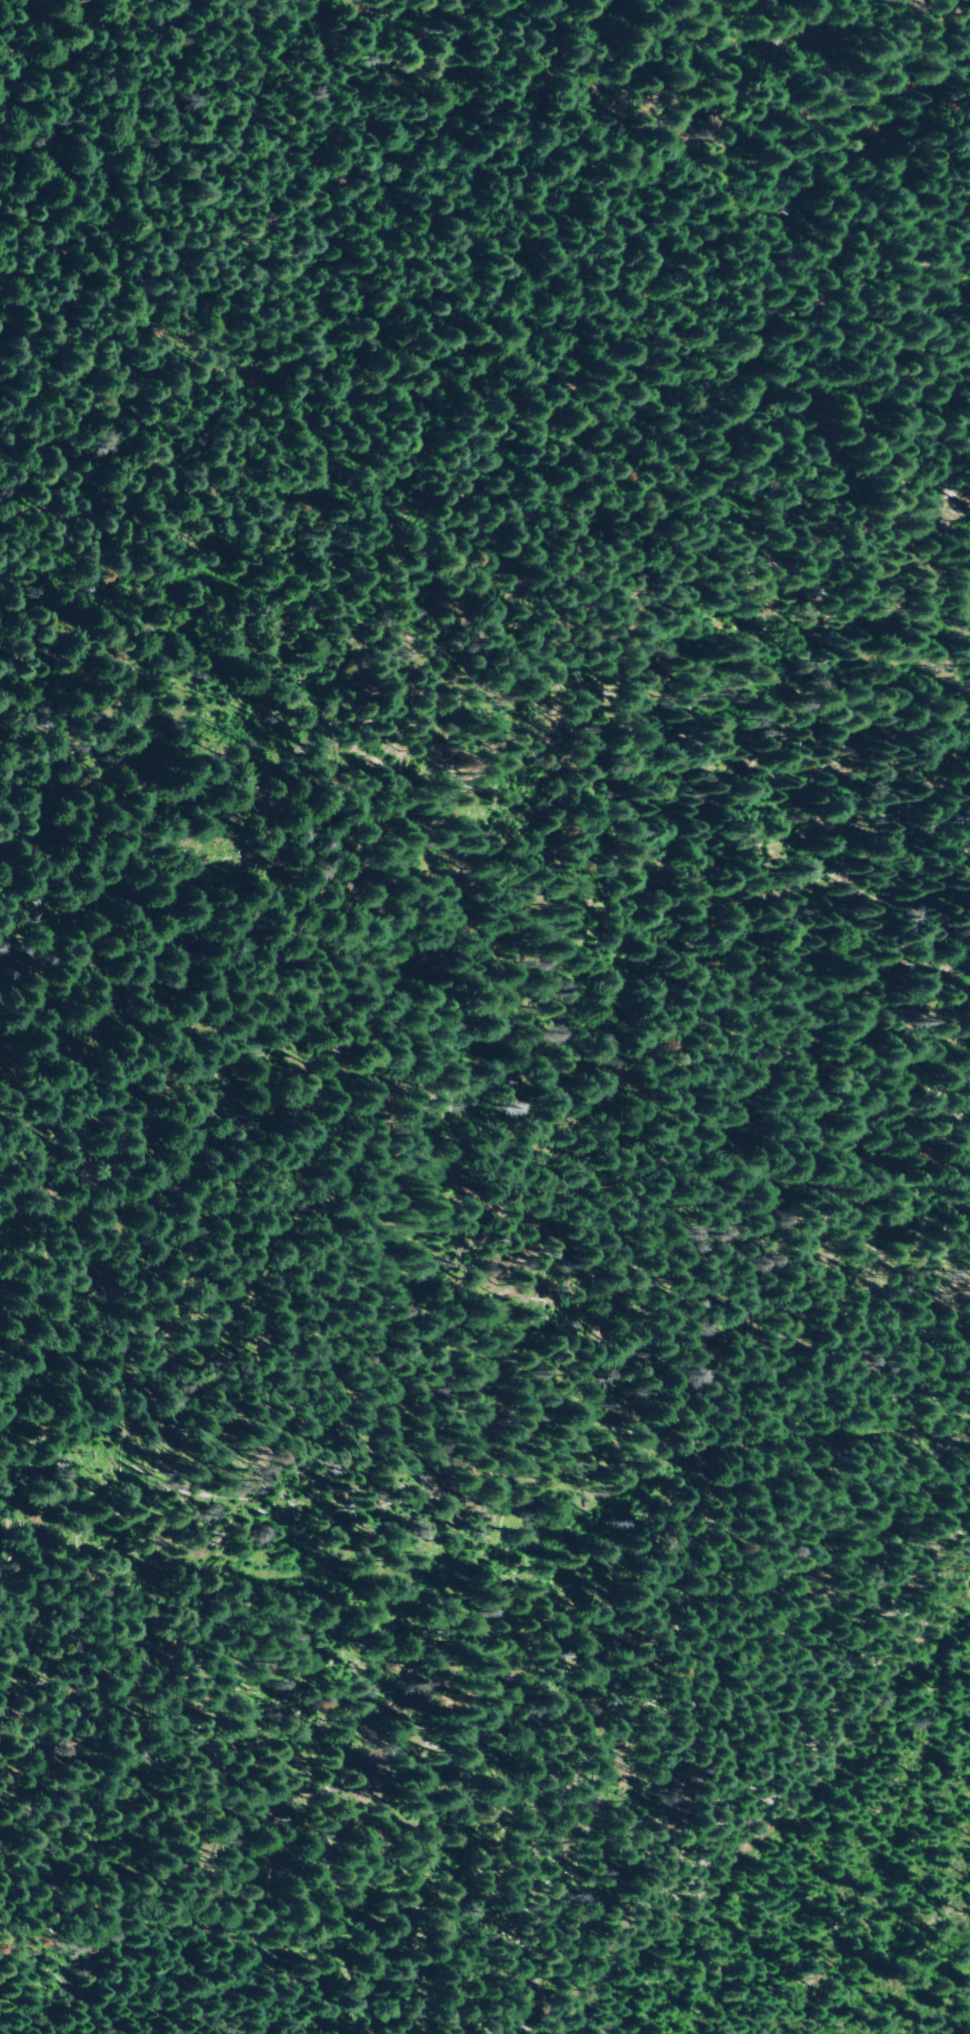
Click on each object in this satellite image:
road: (764, 1822)

